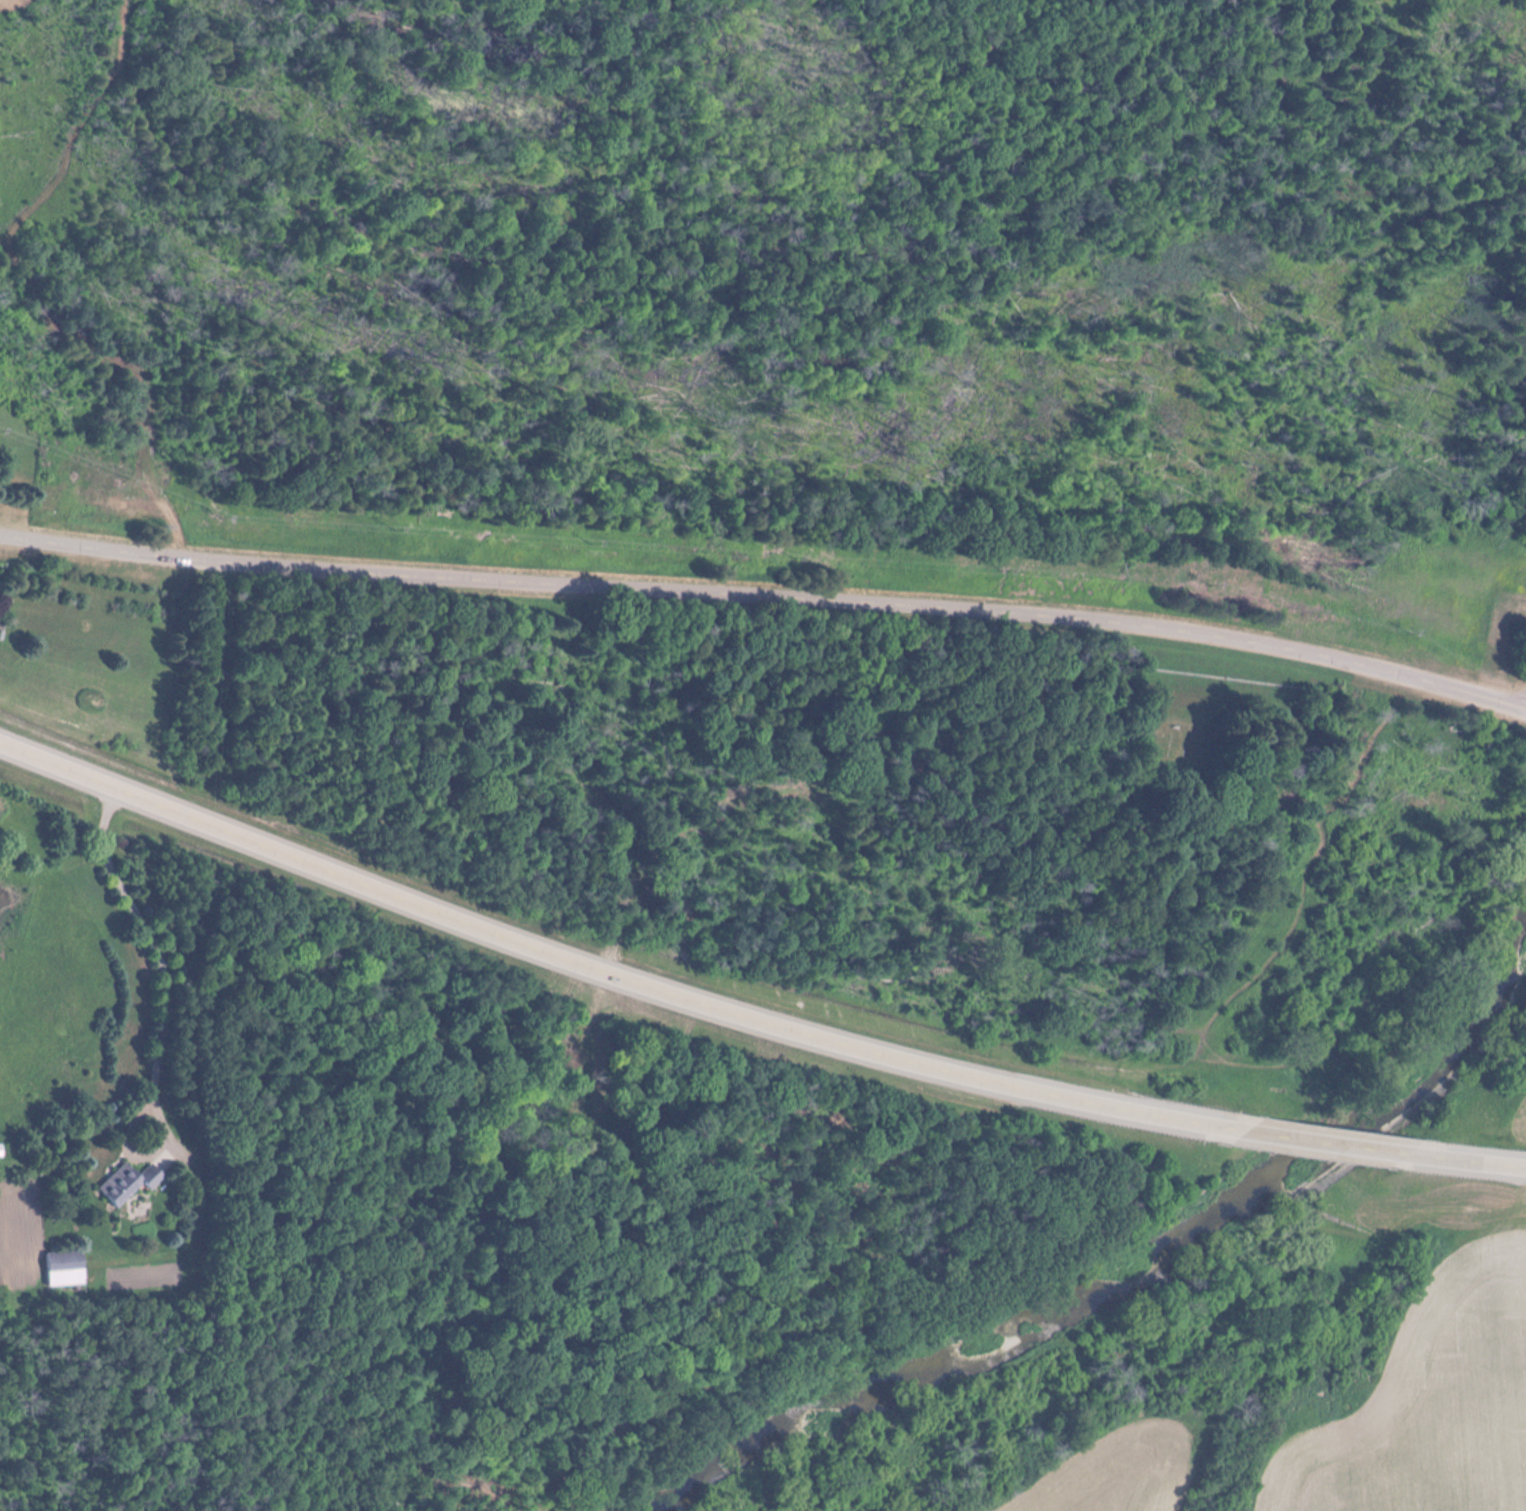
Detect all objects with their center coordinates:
road: (767, 595)
road: (609, 970)
road: (1322, 1143)
road: (1465, 1161)
building: (127, 1184)
river: (1142, 1266)
building: (63, 1269)

